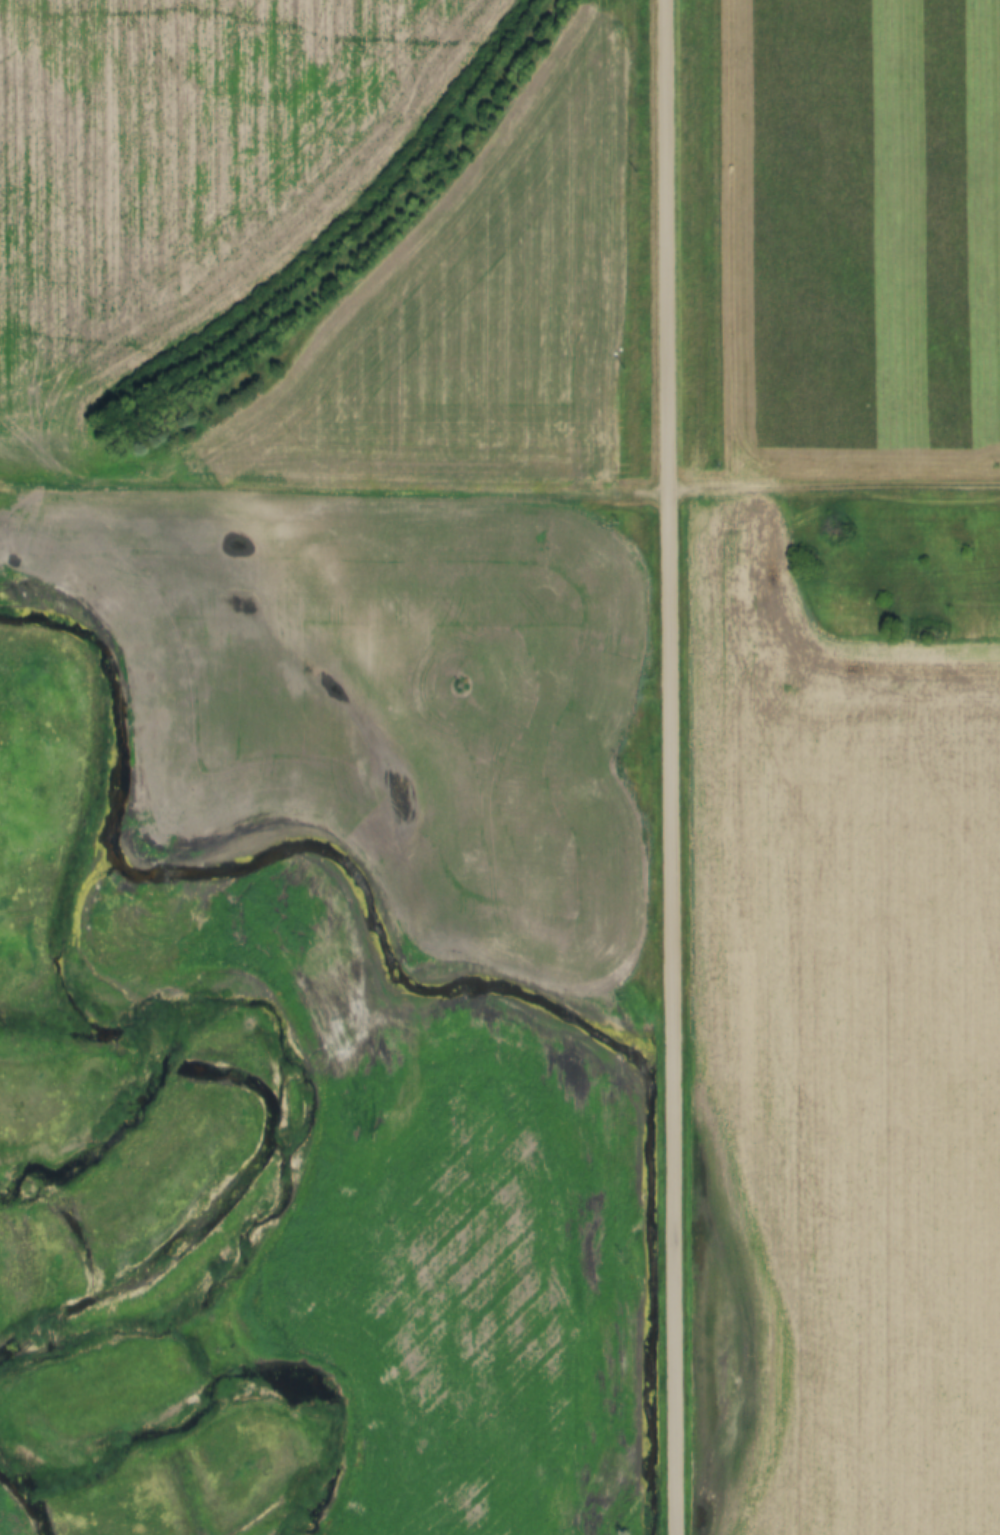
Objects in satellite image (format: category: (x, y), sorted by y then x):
road: (337, 486)
road: (836, 488)
road: (674, 767)

